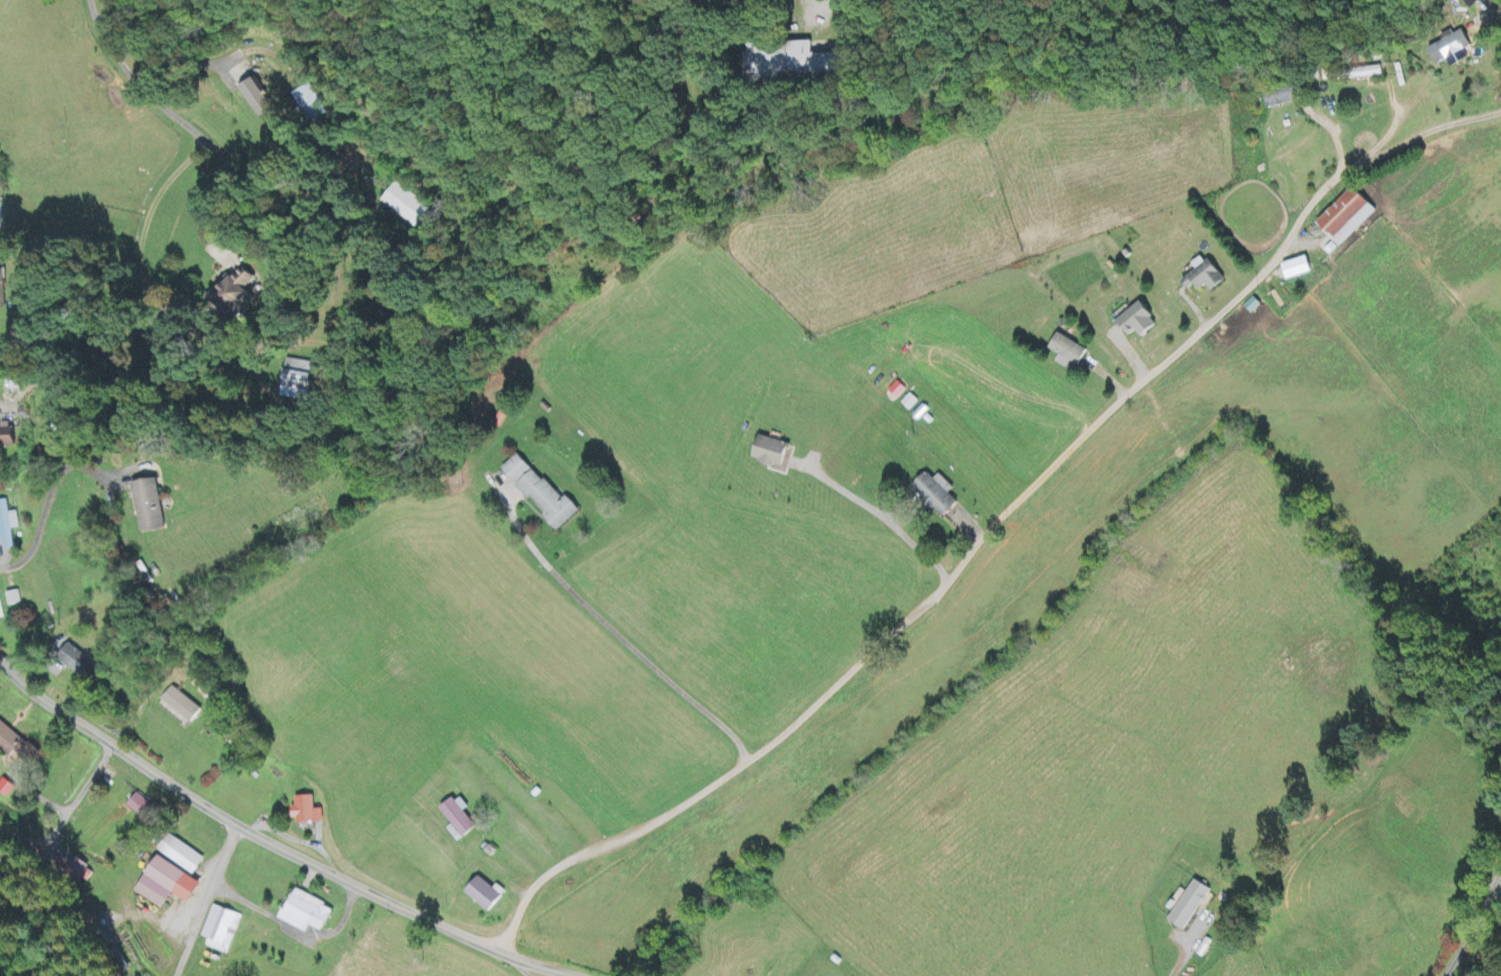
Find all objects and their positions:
building: (1497, 0)
building: (1451, 49)
building: (791, 63)
road: (137, 83)
building: (1280, 96)
building: (258, 100)
building: (310, 104)
road: (1332, 133)
road: (1373, 143)
building: (407, 207)
road: (1299, 217)
building: (1349, 217)
building: (0, 221)
building: (1299, 269)
building: (1205, 276)
building: (2, 291)
building: (233, 291)
building: (1139, 322)
building: (1068, 352)
building: (8, 355)
building: (298, 381)
building: (895, 393)
building: (910, 403)
building: (7, 435)
building: (772, 453)
building: (286, 481)
building: (540, 493)
building: (937, 494)
building: (149, 507)
building: (7, 524)
building: (12, 599)
building: (0, 615)
road: (901, 626)
building: (74, 661)
building: (180, 707)
building: (6, 789)
building: (140, 807)
building: (306, 812)
building: (458, 820)
road: (261, 838)
building: (183, 857)
building: (168, 885)
building: (486, 895)
road: (206, 900)
building: (1190, 906)
building: (308, 914)
building: (221, 931)

